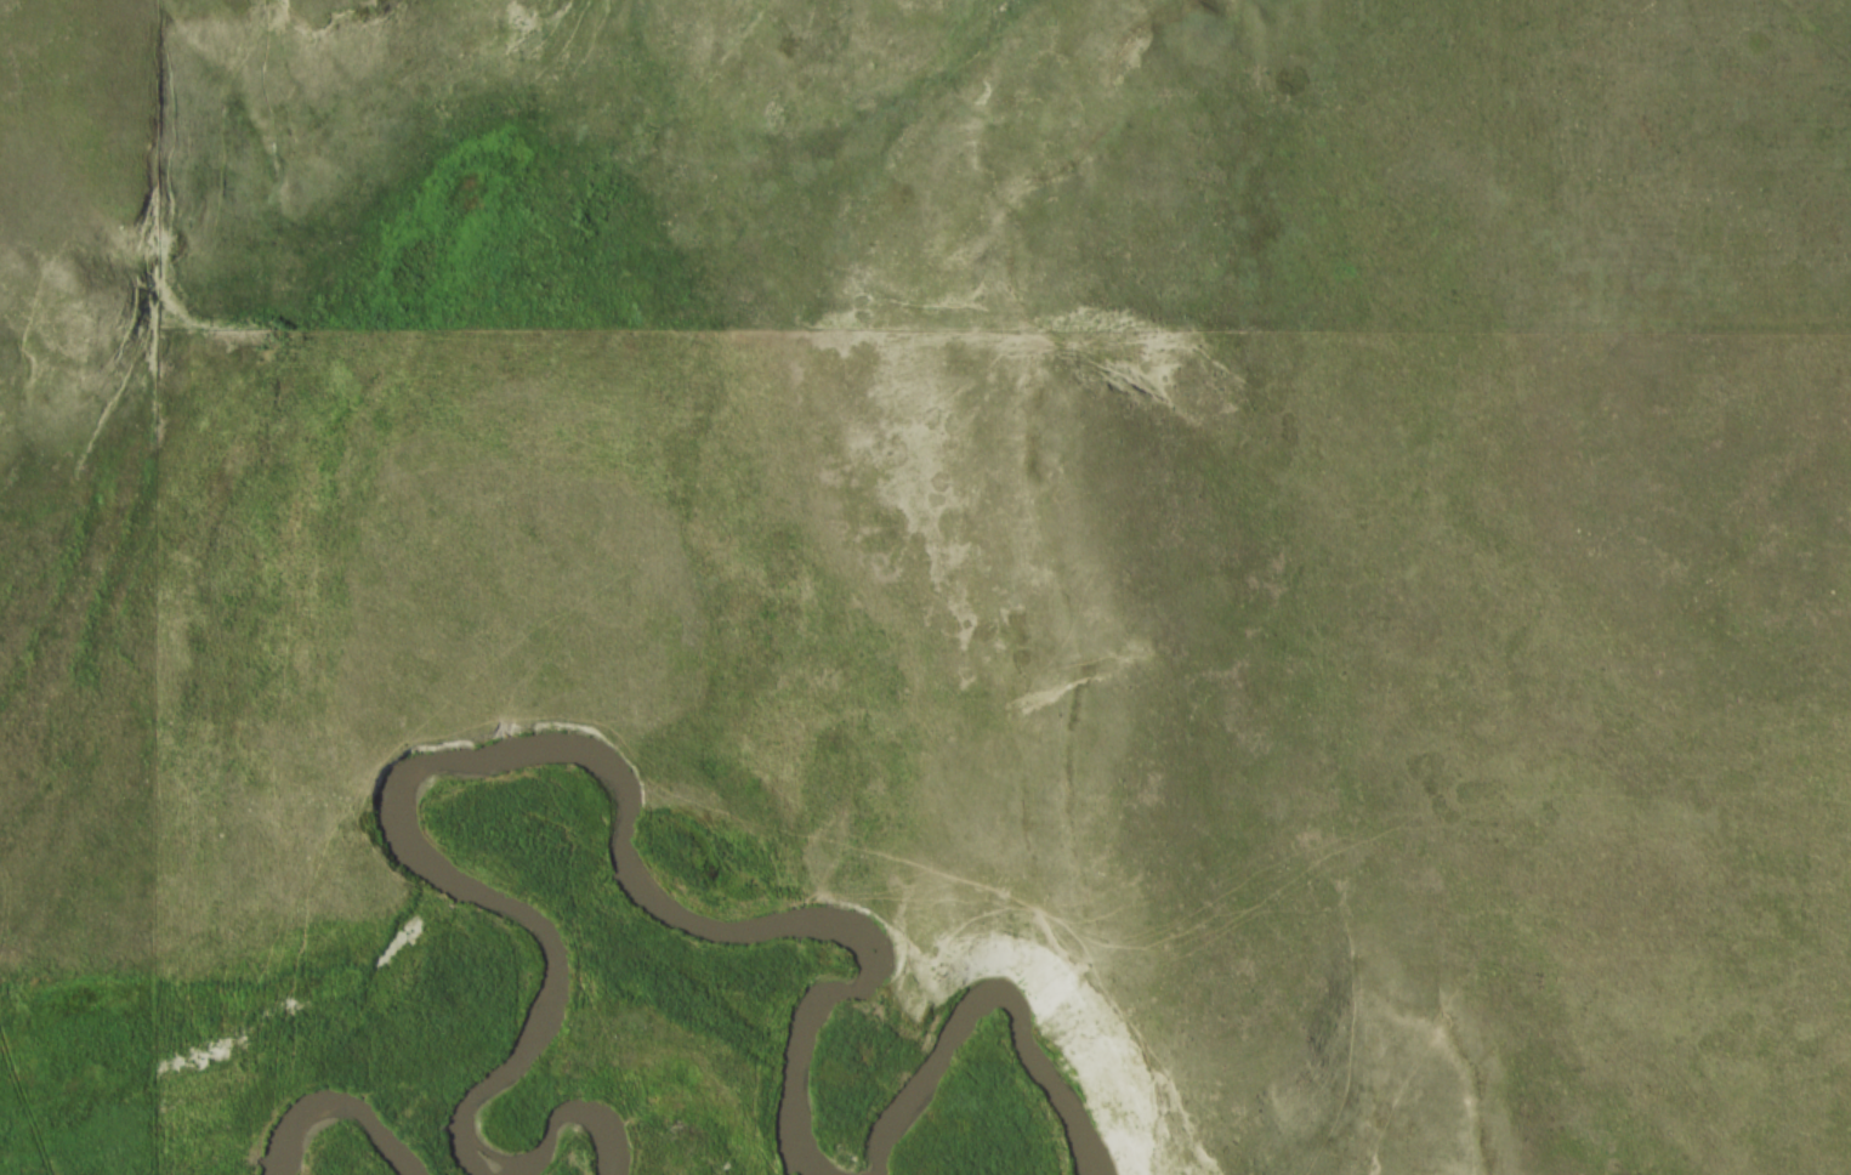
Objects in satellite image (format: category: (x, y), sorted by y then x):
river: (515, 745)
river: (977, 1017)
river: (319, 1124)

